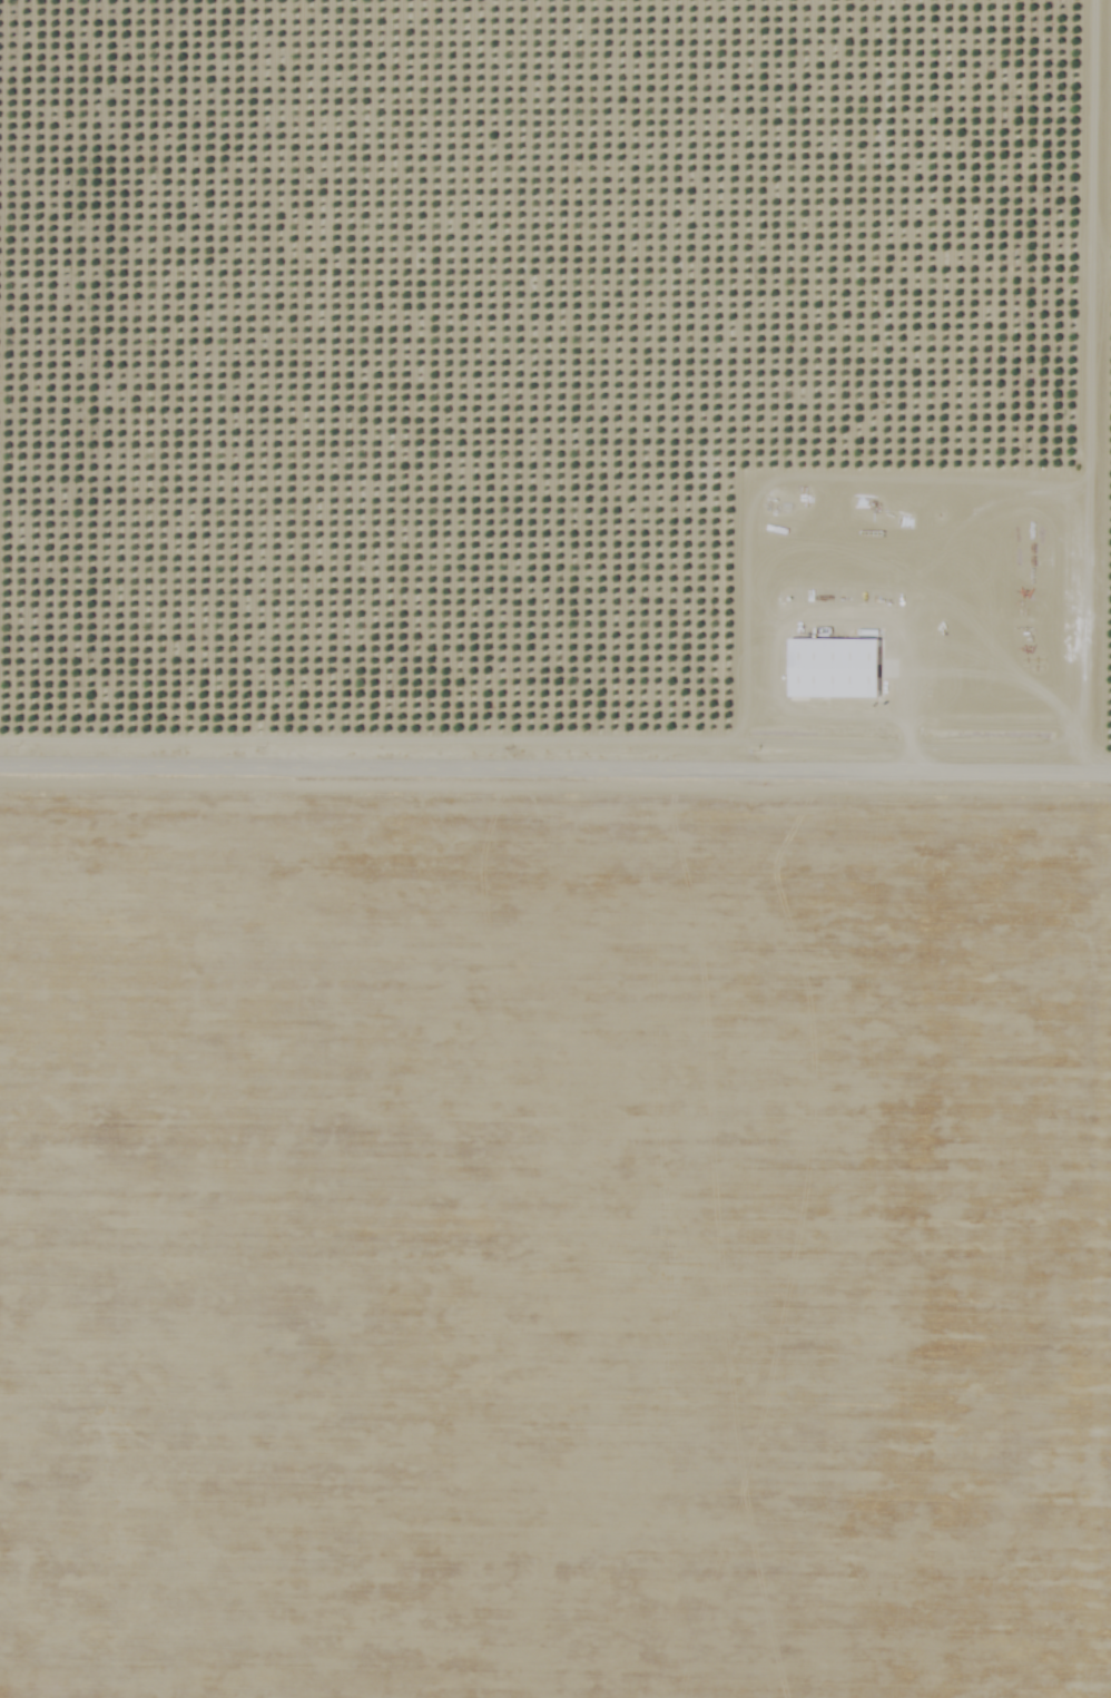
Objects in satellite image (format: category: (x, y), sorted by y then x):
road: (1066, 379)
crop: (555, 390)
road: (769, 479)
building: (833, 666)
road: (555, 754)

